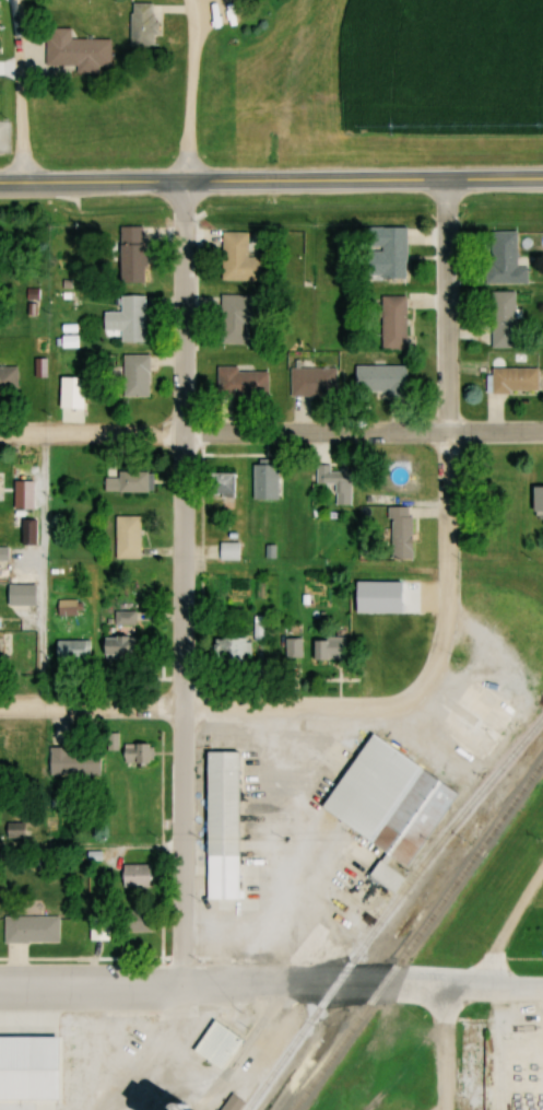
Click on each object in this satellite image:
building: (145, 23)
building: (78, 48)
road: (194, 93)
road: (22, 94)
road: (271, 186)
building: (392, 252)
building: (506, 256)
building: (241, 257)
building: (134, 262)
building: (505, 312)
building: (237, 317)
building: (131, 318)
building: (394, 319)
building: (138, 374)
building: (518, 376)
building: (383, 377)
building: (10, 378)
building: (315, 379)
building: (244, 381)
road: (271, 433)
road: (450, 440)
building: (131, 479)
building: (269, 479)
building: (225, 482)
building: (344, 486)
building: (540, 496)
building: (31, 530)
building: (404, 530)
building: (130, 536)
building: (232, 550)
building: (4, 551)
road: (186, 586)
building: (24, 593)
building: (72, 606)
building: (128, 617)
building: (409, 622)
building: (261, 627)
building: (379, 631)
building: (295, 645)
building: (75, 647)
building: (126, 647)
building: (237, 647)
building: (332, 647)
building: (0, 652)
building: (498, 718)
road: (215, 720)
building: (140, 752)
building: (78, 760)
building: (392, 797)
building: (225, 825)
building: (17, 830)
building: (139, 875)
building: (368, 902)
building: (140, 919)
building: (102, 926)
building: (33, 927)
road: (510, 928)
railway: (412, 930)
road: (271, 989)
building: (221, 1042)
road: (149, 1049)
road: (451, 1050)
building: (197, 1106)
silo: (197, 1106)

